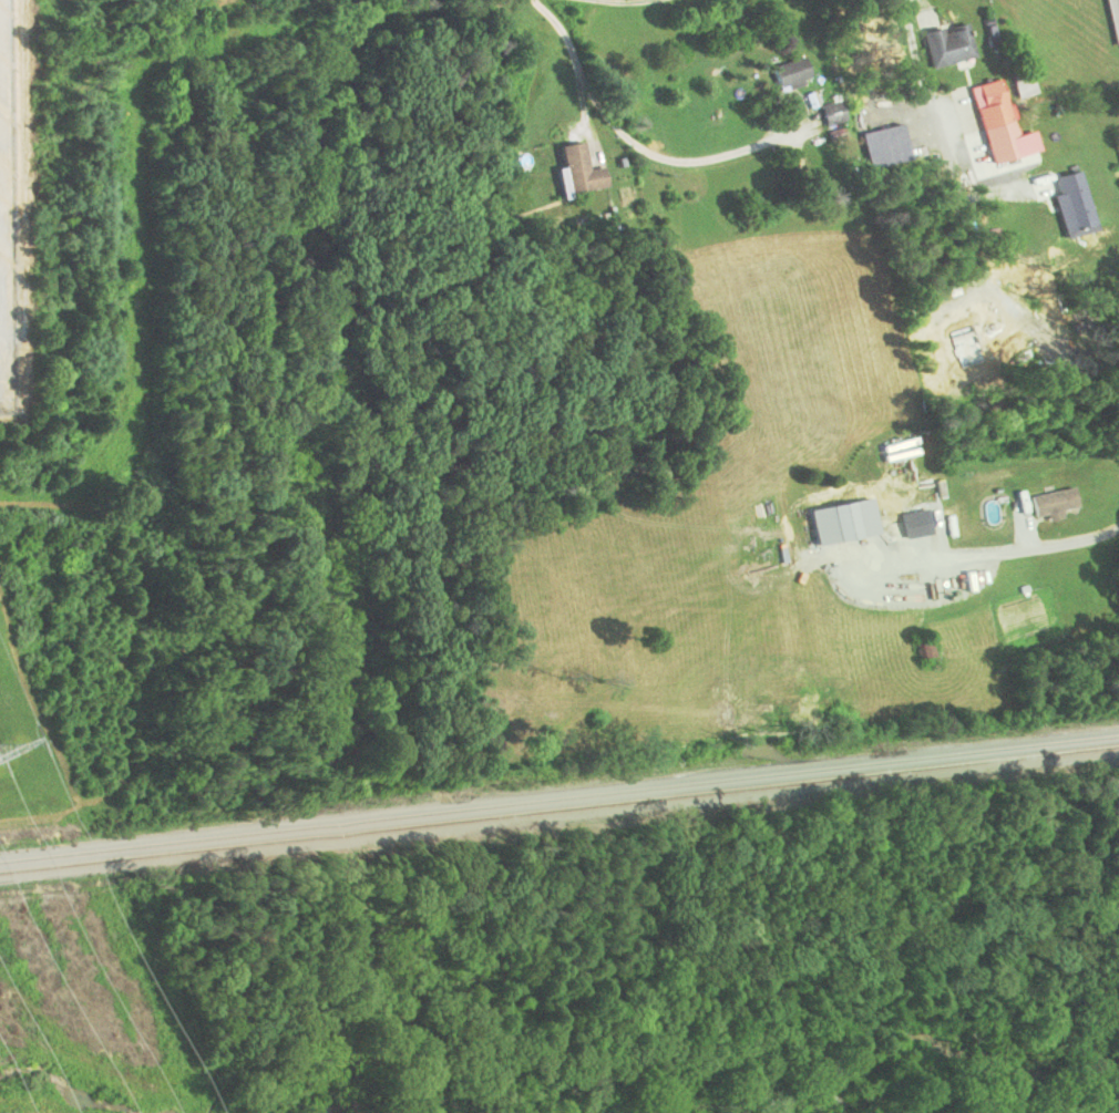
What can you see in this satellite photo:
road: (900, 9)
building: (1112, 19)
building: (947, 44)
road: (565, 45)
building: (789, 72)
building: (1023, 84)
building: (989, 104)
building: (832, 114)
building: (578, 169)
power substation: (8, 218)
building: (1053, 503)
building: (843, 522)
building: (897, 527)
building: (924, 649)
railway: (558, 797)
railway: (558, 807)
river: (942, 1048)
river: (68, 1086)
river: (342, 1106)
river: (757, 1107)

